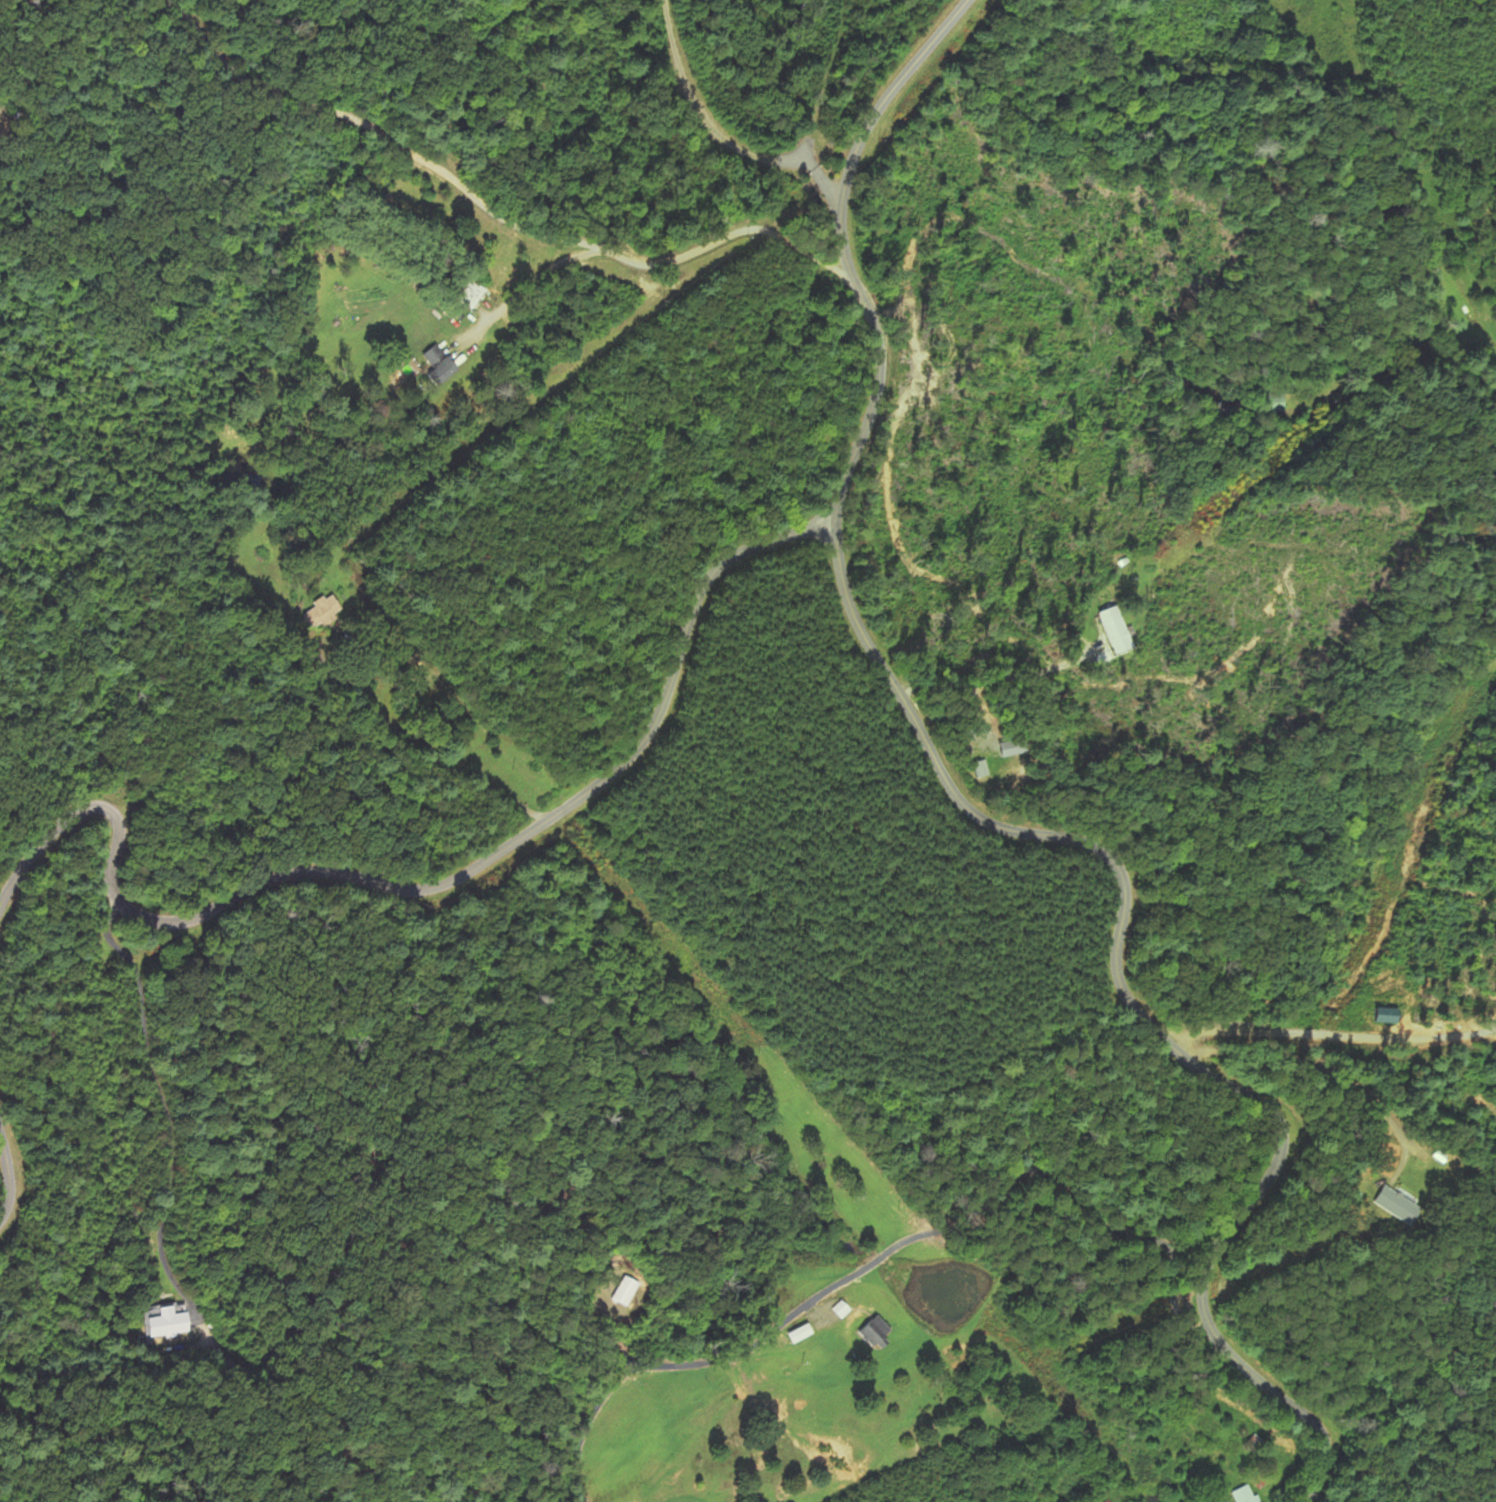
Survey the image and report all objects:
road: (842, 64)
road: (712, 135)
road: (500, 203)
building: (440, 364)
building: (322, 611)
building: (1117, 629)
building: (1017, 747)
road: (1000, 817)
road: (427, 875)
building: (1390, 1015)
road: (7, 1171)
building: (1398, 1205)
road: (869, 1253)
building: (625, 1291)
building: (170, 1324)
building: (878, 1334)
building: (1245, 1495)

